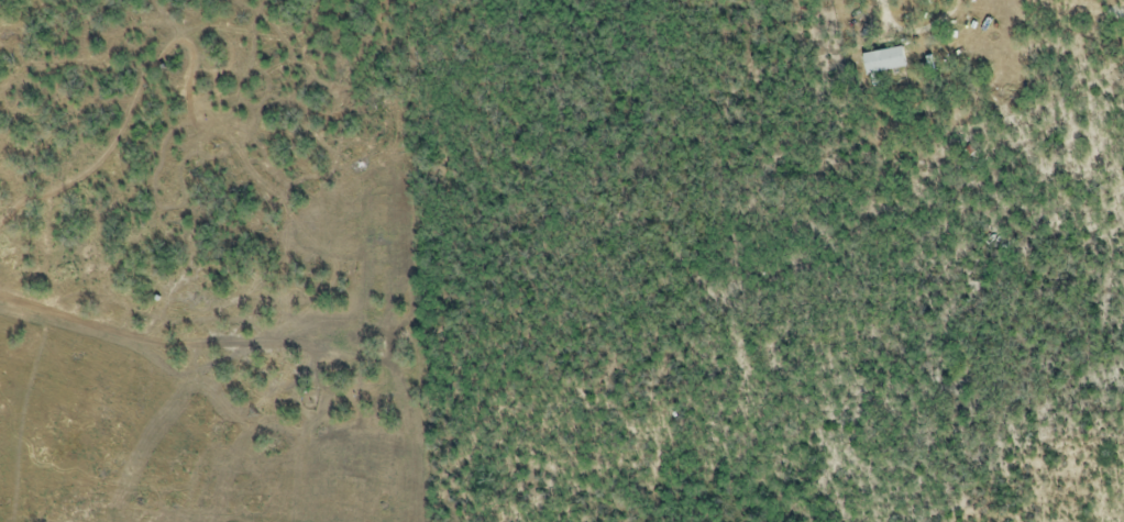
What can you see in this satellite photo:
road: (916, 26)
building: (891, 65)

